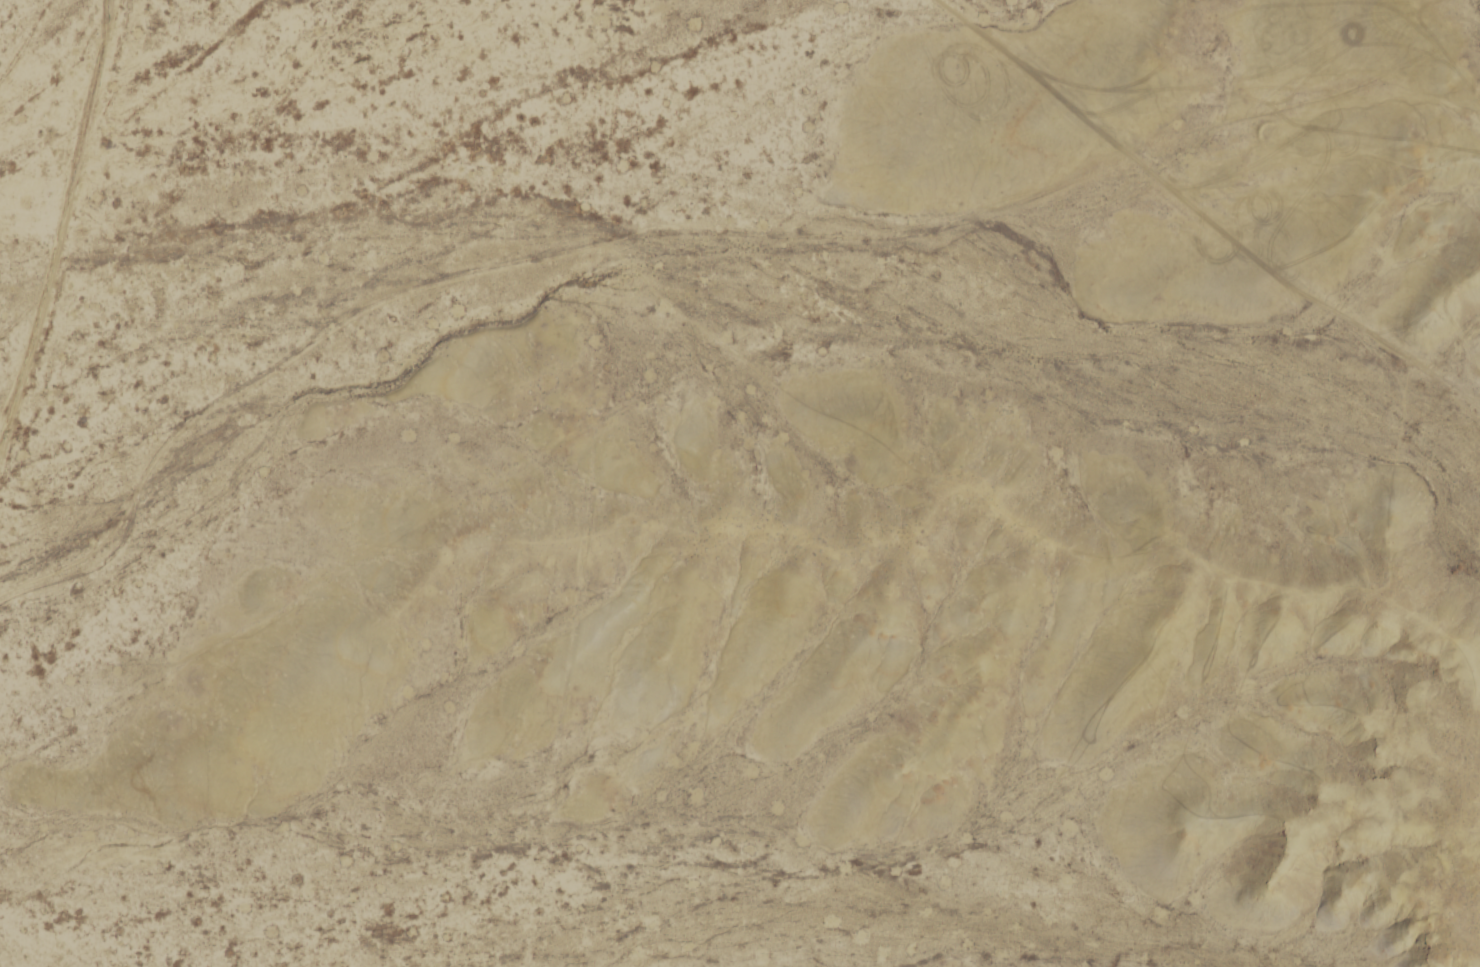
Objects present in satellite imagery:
road: (141, 253)

